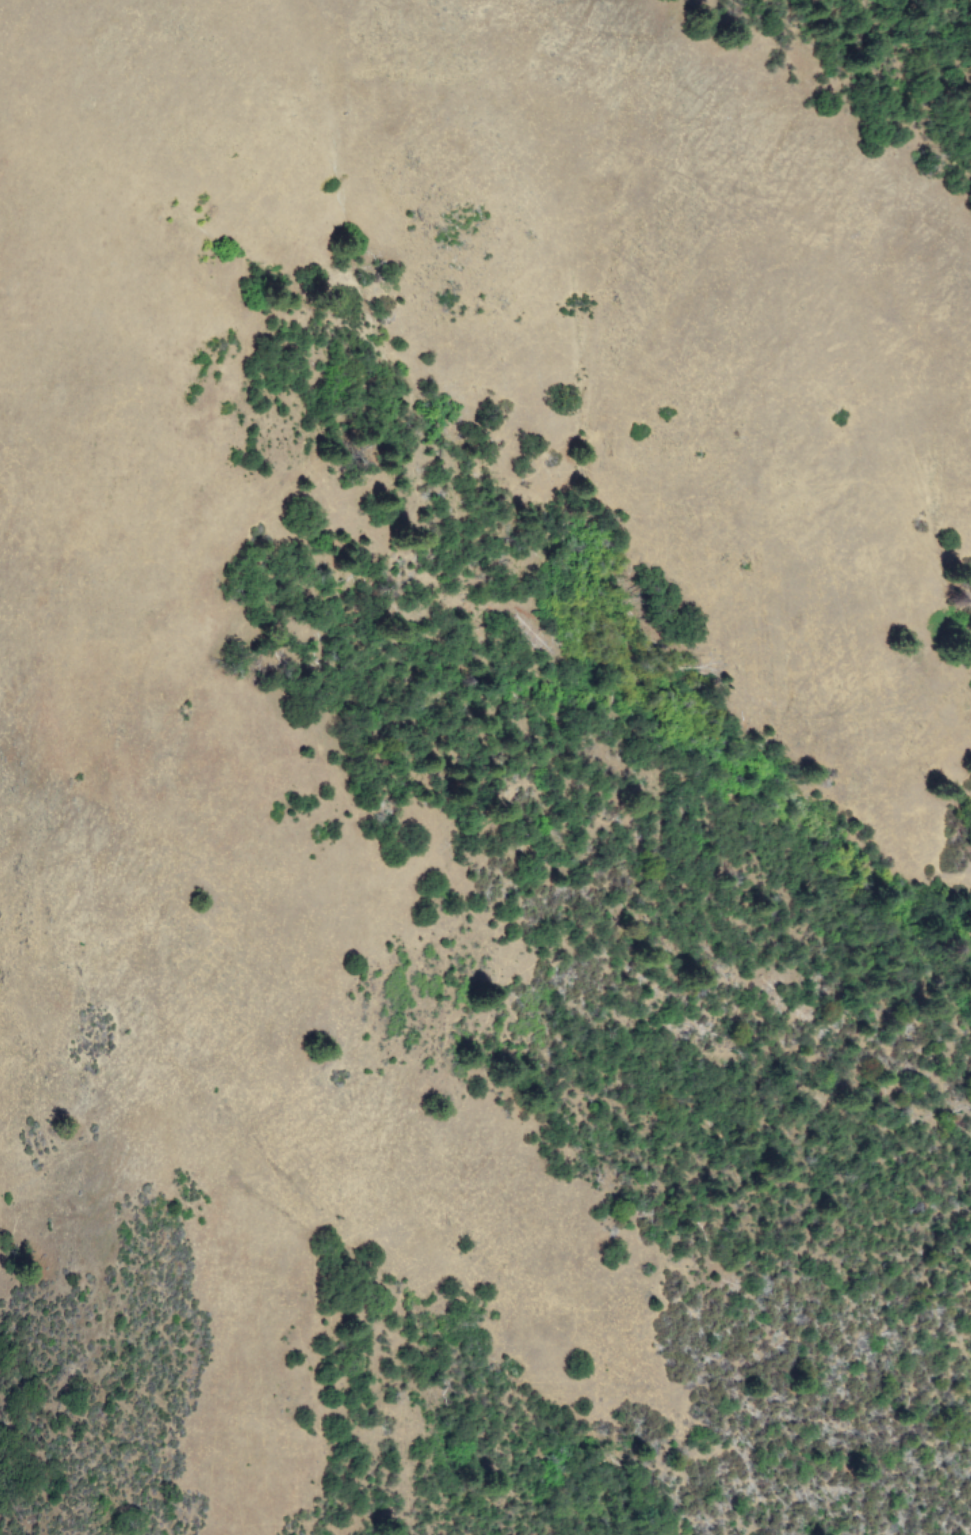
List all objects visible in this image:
road: (78, 1269)

